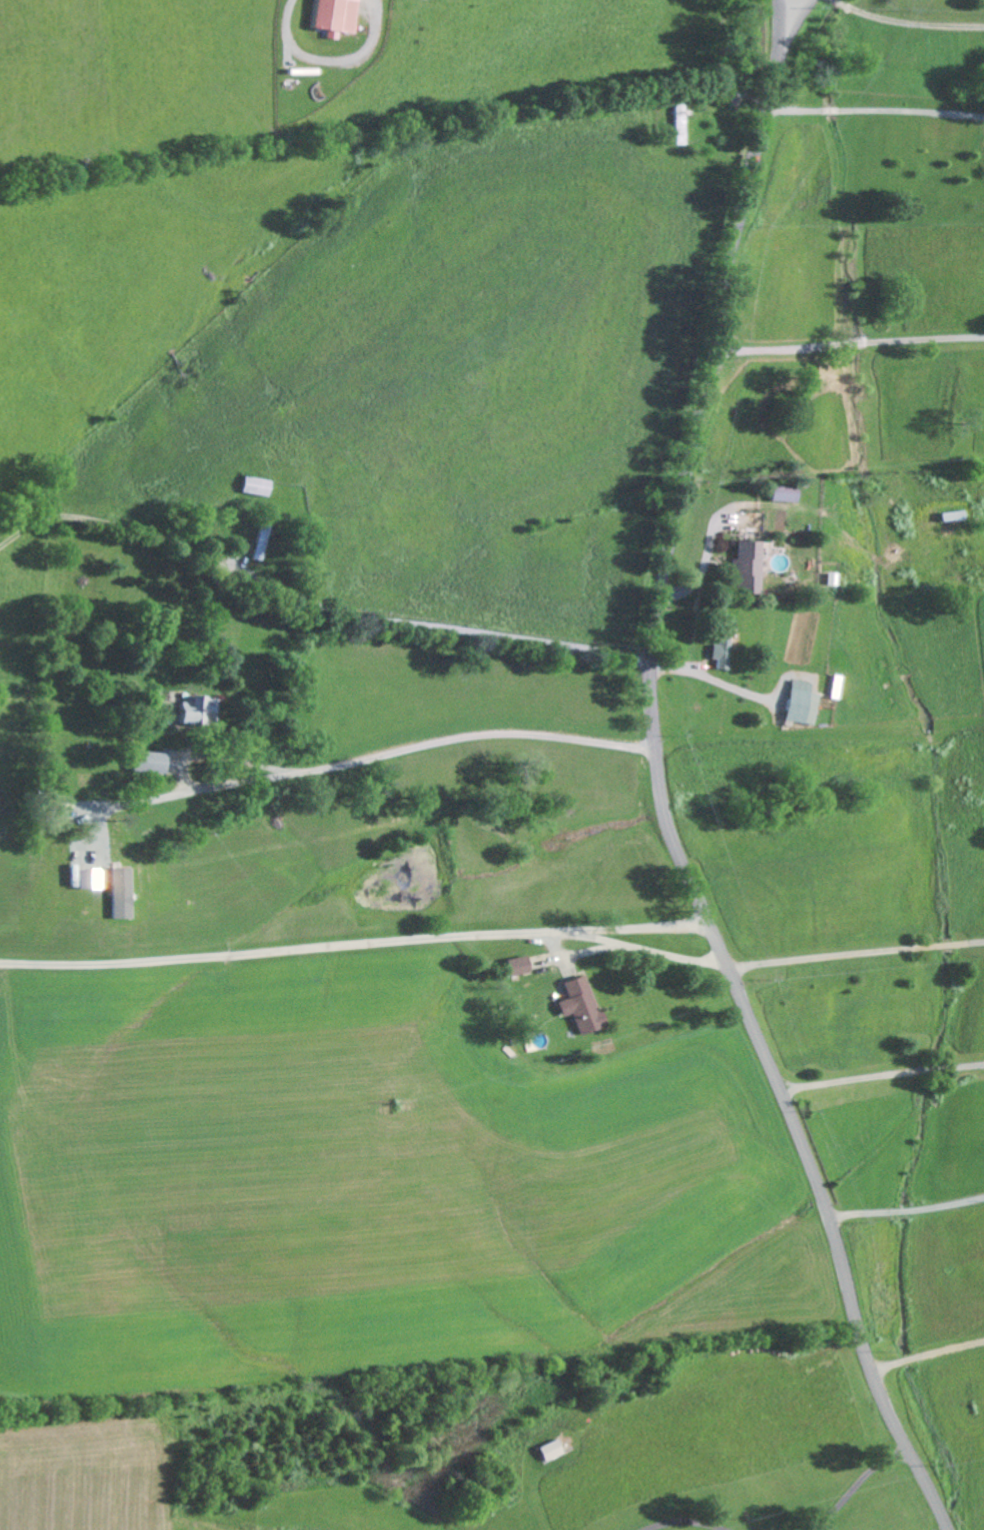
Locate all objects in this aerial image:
road: (792, 15)
building: (330, 16)
road: (907, 22)
road: (330, 58)
road: (796, 108)
road: (831, 109)
road: (911, 110)
road: (928, 339)
road: (860, 342)
road: (782, 350)
building: (262, 486)
building: (778, 492)
building: (265, 541)
building: (744, 566)
road: (704, 573)
road: (442, 625)
building: (719, 642)
road: (714, 680)
building: (796, 703)
building: (206, 709)
building: (157, 762)
road: (347, 762)
road: (661, 785)
building: (94, 879)
building: (125, 893)
road: (364, 941)
road: (854, 953)
building: (515, 966)
building: (576, 1005)
road: (882, 1080)
road: (907, 1214)
road: (928, 1357)
building: (548, 1449)
road: (860, 1485)
road: (688, 1524)

